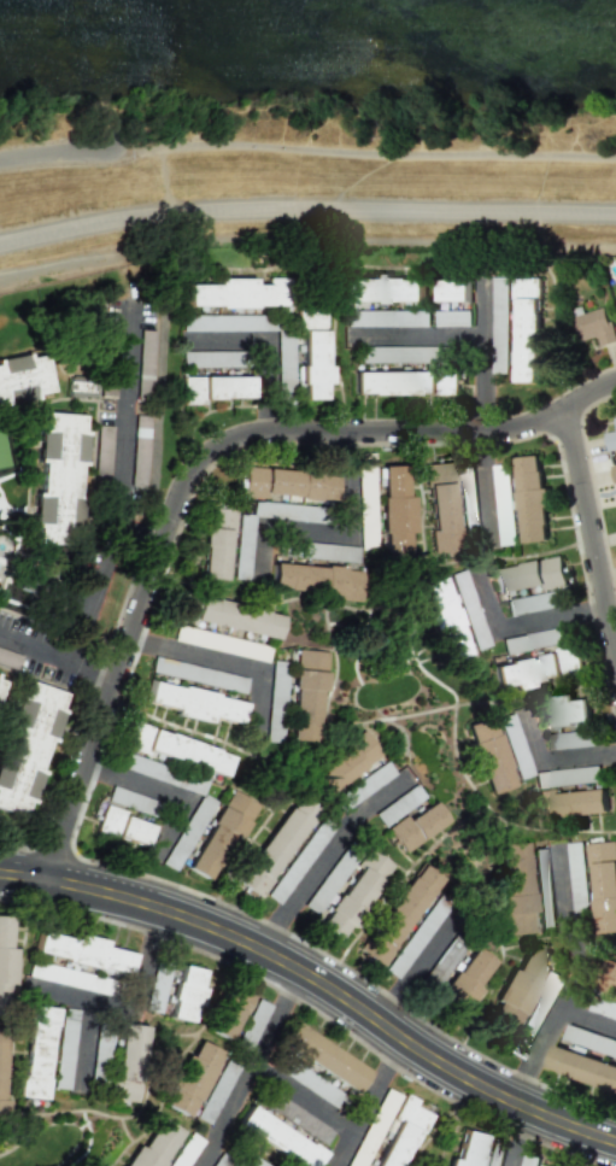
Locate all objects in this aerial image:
river: (604, 0)
river: (39, 4)
road: (52, 150)
road: (306, 210)
building: (380, 289)
building: (453, 289)
building: (239, 293)
building: (311, 320)
building: (594, 326)
building: (527, 327)
road: (275, 345)
building: (312, 365)
building: (23, 375)
road: (479, 376)
building: (406, 382)
building: (81, 387)
building: (213, 388)
building: (611, 436)
road: (200, 471)
building: (614, 473)
building: (58, 476)
building: (286, 484)
building: (532, 499)
building: (440, 508)
building: (394, 512)
road: (348, 527)
road: (113, 529)
building: (242, 547)
road: (589, 552)
building: (213, 553)
building: (528, 576)
building: (316, 580)
building: (535, 602)
building: (469, 611)
building: (225, 616)
building: (441, 620)
road: (526, 622)
building: (8, 658)
building: (310, 660)
road: (231, 661)
building: (538, 668)
building: (172, 669)
building: (0, 679)
road: (93, 679)
building: (277, 684)
building: (193, 703)
building: (304, 704)
building: (564, 711)
building: (570, 739)
building: (27, 743)
building: (514, 746)
building: (176, 749)
building: (487, 755)
road: (551, 756)
building: (342, 764)
building: (363, 786)
road: (152, 789)
building: (128, 799)
building: (570, 804)
building: (121, 826)
building: (415, 826)
building: (219, 836)
building: (275, 845)
road: (325, 857)
building: (298, 861)
building: (541, 872)
building: (577, 875)
building: (604, 885)
building: (514, 890)
building: (353, 893)
building: (398, 914)
building: (413, 938)
building: (5, 953)
building: (80, 953)
road: (410, 968)
building: (71, 978)
building: (465, 978)
building: (609, 978)
road: (573, 979)
road: (318, 982)
building: (156, 988)
building: (517, 988)
building: (184, 995)
building: (228, 1010)
building: (609, 1010)
road: (130, 1012)
building: (535, 1015)
road: (587, 1018)
building: (252, 1024)
building: (580, 1036)
building: (65, 1038)
building: (35, 1053)
building: (323, 1056)
building: (117, 1061)
building: (0, 1066)
road: (248, 1068)
building: (582, 1068)
building: (189, 1078)
building: (310, 1082)
building: (215, 1092)
road: (301, 1097)
road: (366, 1101)
building: (401, 1132)
building: (276, 1138)
road: (517, 1138)
building: (153, 1146)
building: (465, 1149)
building: (494, 1156)
building: (530, 1160)
building: (247, 1161)
building: (544, 1165)

